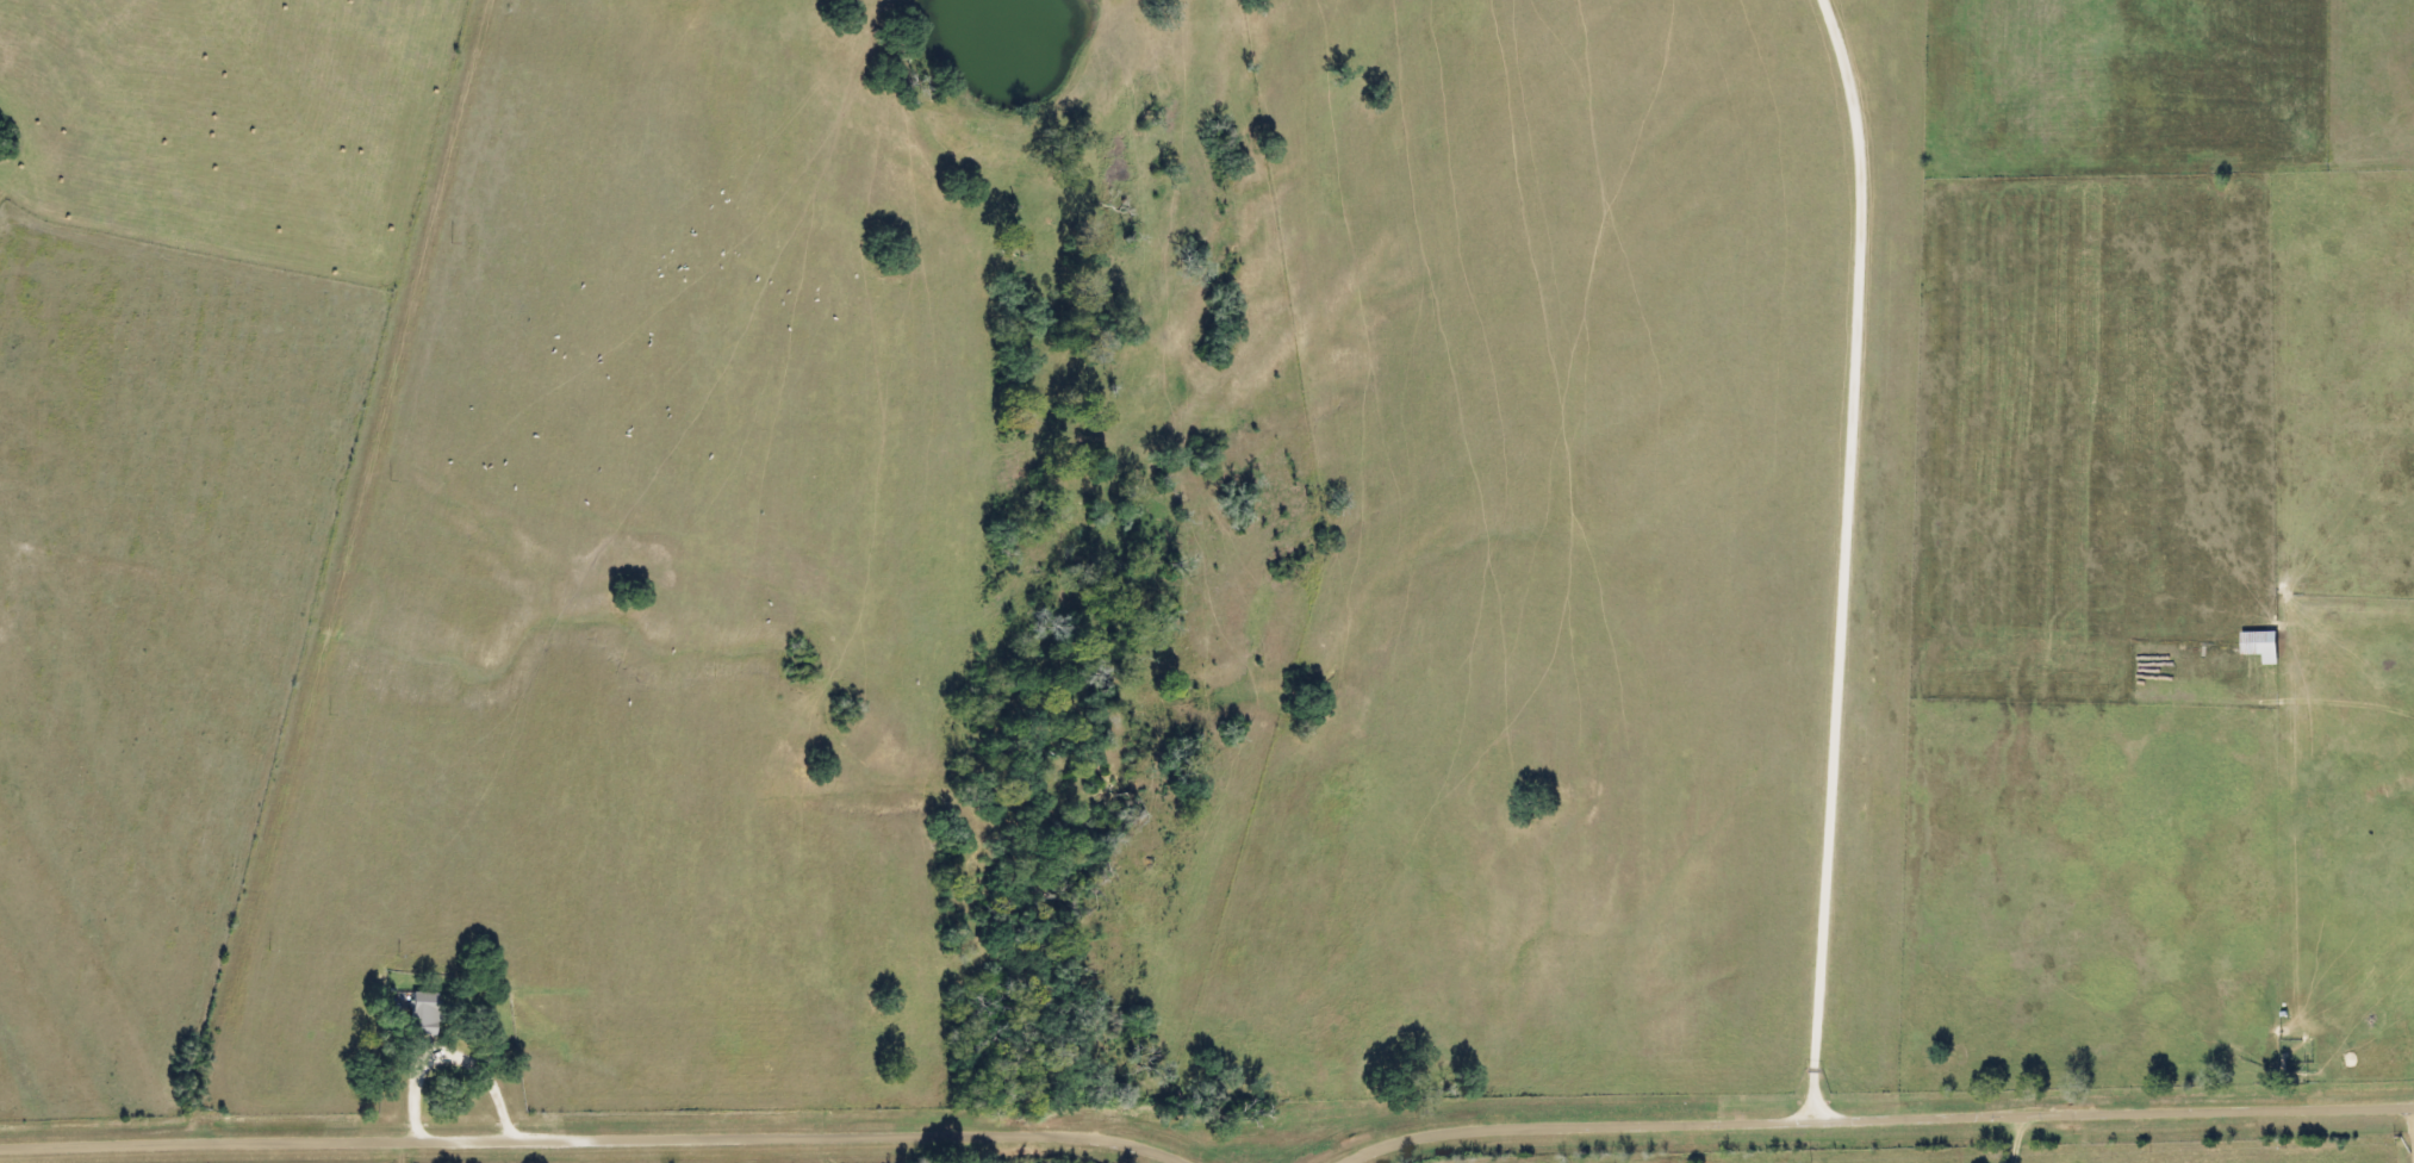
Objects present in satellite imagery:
road: (1843, 556)
road: (351, 567)
building: (2265, 646)
building: (425, 1012)
road: (2413, 1106)
road: (1877, 1113)
road: (596, 1137)
road: (2017, 1137)

